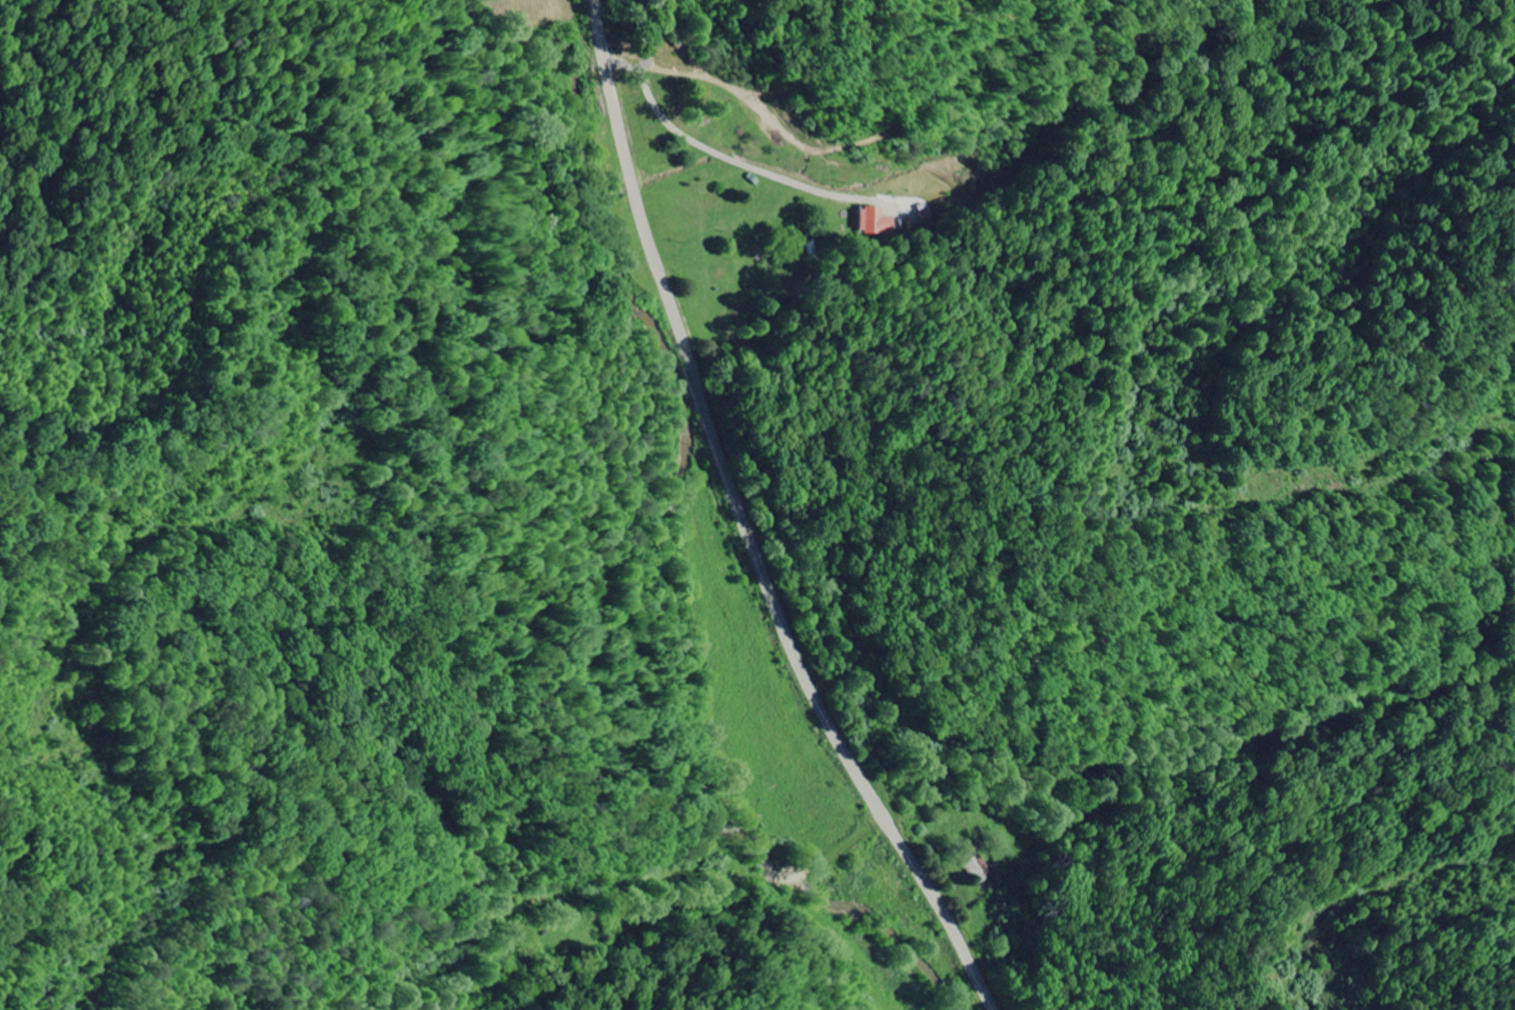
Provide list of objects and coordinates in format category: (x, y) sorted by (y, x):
building: (874, 222)
road: (754, 522)
building: (979, 869)

